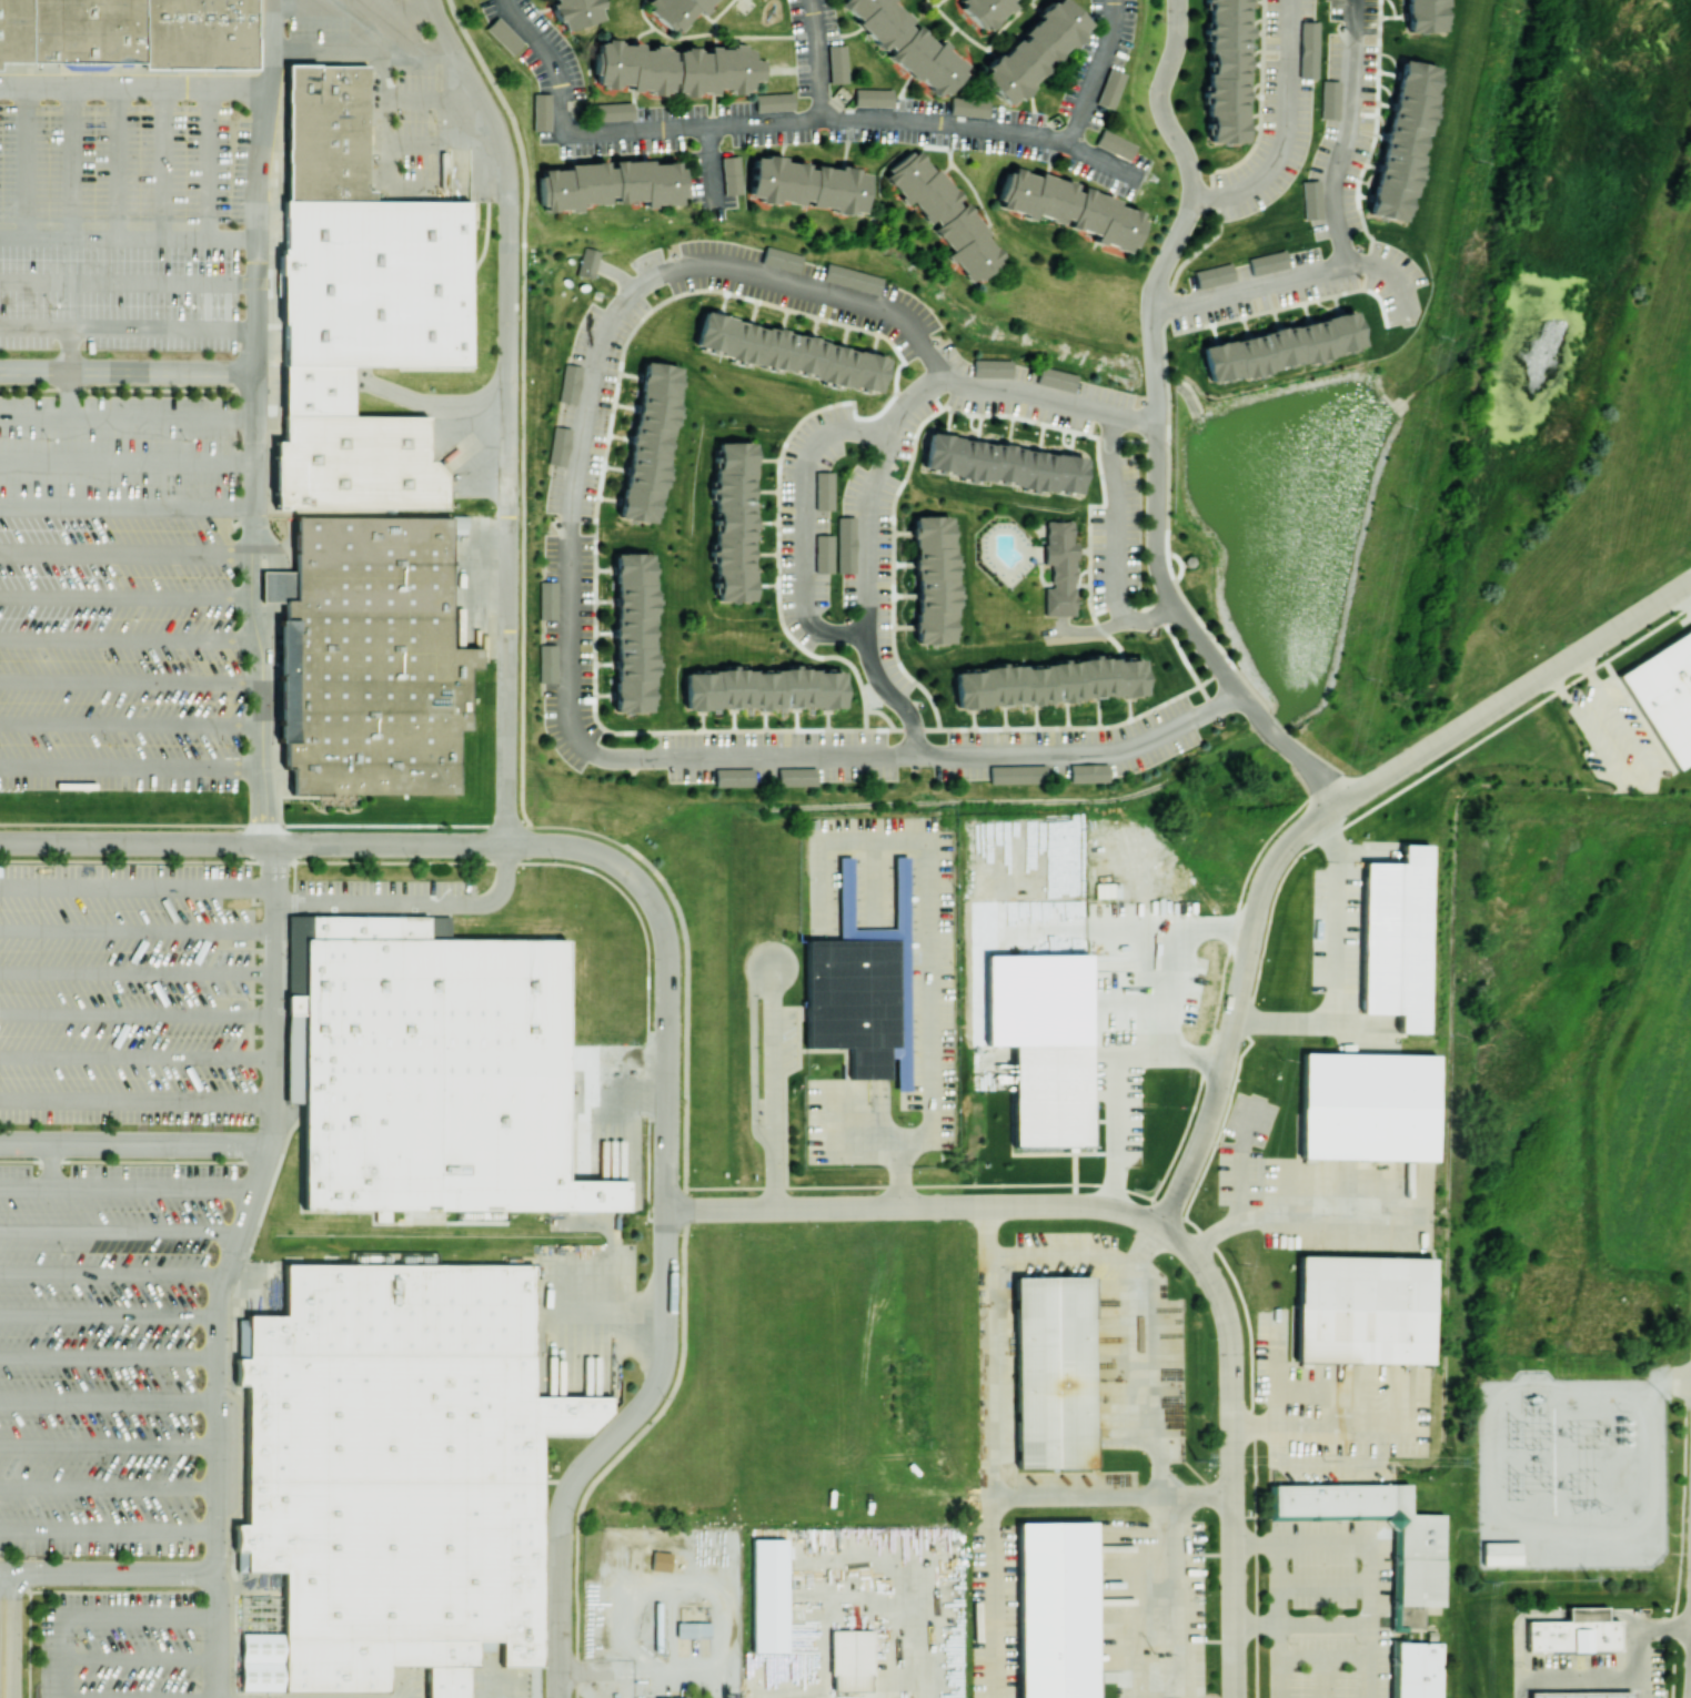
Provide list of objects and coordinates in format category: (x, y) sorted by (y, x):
road: (352, 7)
building: (676, 10)
building: (985, 10)
building: (574, 12)
building: (1423, 16)
street lamp: (1167, 22)
building: (16, 33)
building: (90, 33)
building: (503, 34)
building: (204, 37)
road: (272, 43)
building: (905, 43)
building: (1308, 47)
building: (1033, 51)
road: (363, 52)
road: (815, 58)
building: (837, 62)
building: (676, 69)
building: (1226, 70)
road: (1095, 73)
road: (135, 85)
building: (1111, 87)
street lamp: (1149, 89)
building: (873, 97)
building: (1330, 98)
road: (433, 100)
building: (774, 101)
building: (969, 105)
building: (541, 110)
building: (613, 110)
road: (381, 120)
road: (764, 121)
road: (944, 123)
road: (565, 125)
road: (1284, 129)
building: (329, 132)
road: (1345, 133)
building: (1402, 140)
building: (1116, 143)
road: (441, 144)
street lamp: (1171, 153)
road: (29, 161)
road: (1103, 161)
road: (74, 162)
road: (119, 162)
road: (164, 162)
road: (210, 162)
road: (711, 170)
building: (731, 174)
building: (610, 184)
building: (807, 184)
road: (436, 186)
building: (1311, 198)
building: (1069, 208)
building: (944, 213)
road: (255, 229)
street lamp: (1168, 232)
road: (128, 240)
building: (782, 259)
building: (587, 262)
building: (1268, 262)
road: (615, 273)
road: (1387, 273)
building: (1215, 275)
building: (852, 279)
road: (128, 282)
road: (803, 284)
building: (378, 285)
road: (1248, 286)
road: (128, 327)
building: (1280, 346)
building: (789, 353)
building: (990, 367)
road: (70, 372)
road: (128, 372)
building: (1055, 378)
building: (570, 384)
road: (128, 390)
road: (1027, 393)
building: (319, 394)
street lamp: (231, 398)
road: (509, 413)
road: (127, 416)
road: (1133, 418)
road: (1154, 426)
building: (648, 442)
building: (558, 446)
road: (127, 461)
building: (1001, 464)
building: (358, 467)
street lamp: (229, 486)
building: (823, 491)
road: (868, 492)
road: (127, 508)
road: (1115, 518)
building: (733, 520)
road: (802, 520)
building: (845, 544)
building: (823, 554)
road: (123, 555)
building: (1056, 568)
building: (934, 578)
building: (272, 586)
road: (123, 597)
building: (547, 599)
road: (249, 610)
road: (1149, 619)
road: (1058, 625)
road: (1091, 630)
building: (633, 631)
road: (1050, 631)
road: (129, 639)
building: (368, 659)
building: (546, 663)
road: (1584, 663)
road: (567, 677)
road: (1554, 680)
building: (1049, 681)
road: (131, 683)
building: (763, 688)
road: (1514, 693)
road: (889, 695)
building: (1664, 695)
road: (131, 725)
road: (1080, 752)
road: (131, 769)
building: (1087, 772)
building: (1016, 774)
building: (795, 776)
building: (733, 777)
road: (1645, 788)
road: (134, 843)
road: (389, 845)
street lamp: (121, 858)
street lamp: (249, 859)
street lamp: (411, 861)
road: (490, 861)
street lamp: (557, 861)
road: (273, 873)
road: (138, 888)
road: (414, 902)
road: (138, 930)
building: (1396, 938)
street lamp: (652, 958)
road: (685, 966)
road: (1335, 968)
road: (138, 973)
road: (925, 982)
building: (862, 986)
road: (1237, 1007)
road: (138, 1015)
road: (276, 1024)
building: (1043, 1043)
road: (138, 1058)
building: (434, 1065)
road: (1111, 1081)
road: (772, 1091)
road: (138, 1101)
building: (1367, 1106)
street lamp: (647, 1122)
street lamp: (97, 1128)
street lamp: (255, 1128)
road: (869, 1134)
road: (134, 1144)
road: (666, 1148)
road: (131, 1161)
road: (1237, 1162)
road: (50, 1165)
street lamp: (759, 1169)
road: (127, 1189)
road: (254, 1190)
road: (915, 1206)
road: (1180, 1219)
road: (1296, 1219)
street lamp: (813, 1226)
street lamp: (651, 1227)
road: (120, 1233)
road: (1057, 1250)
road: (112, 1276)
building: (1362, 1310)
road: (109, 1313)
building: (241, 1337)
road: (109, 1357)
building: (1053, 1372)
road: (1141, 1376)
road: (1272, 1377)
road: (1671, 1381)
street lamp: (665, 1398)
road: (109, 1402)
road: (218, 1403)
road: (1317, 1427)
power tower: (1512, 1431)
road: (109, 1446)
road: (1230, 1451)
power tower: (1195, 1461)
power tower: (1453, 1461)
building: (403, 1468)
power substation: (1570, 1472)
power tower: (1512, 1484)
road: (109, 1488)
road: (1197, 1490)
power tower: (1589, 1506)
street lamp: (576, 1514)
road: (990, 1514)
building: (1305, 1517)
road: (109, 1533)
road: (1255, 1545)
building: (1501, 1553)
building: (661, 1560)
building: (1419, 1566)
road: (7, 1573)
road: (115, 1574)
road: (1371, 1575)
power tower: (1588, 1579)
power tower: (1482, 1580)
road: (1148, 1589)
road: (108, 1591)
building: (768, 1595)
building: (1055, 1609)
road: (558, 1611)
building: (1590, 1614)
road: (100, 1615)
road: (1280, 1620)
road: (1300, 1624)
building: (693, 1629)
road: (13, 1635)
road: (218, 1636)
building: (1576, 1636)
road: (1639, 1640)
road: (29, 1645)
road: (928, 1655)
road: (142, 1659)
building: (850, 1659)
building: (263, 1661)
street lamp: (27, 1668)
road: (643, 1669)
building: (1416, 1669)
road: (1569, 1676)
road: (446, 1687)
road: (495, 1692)
building: (1583, 1695)
street lamp: (544, 1696)
building: (671, 1697)

